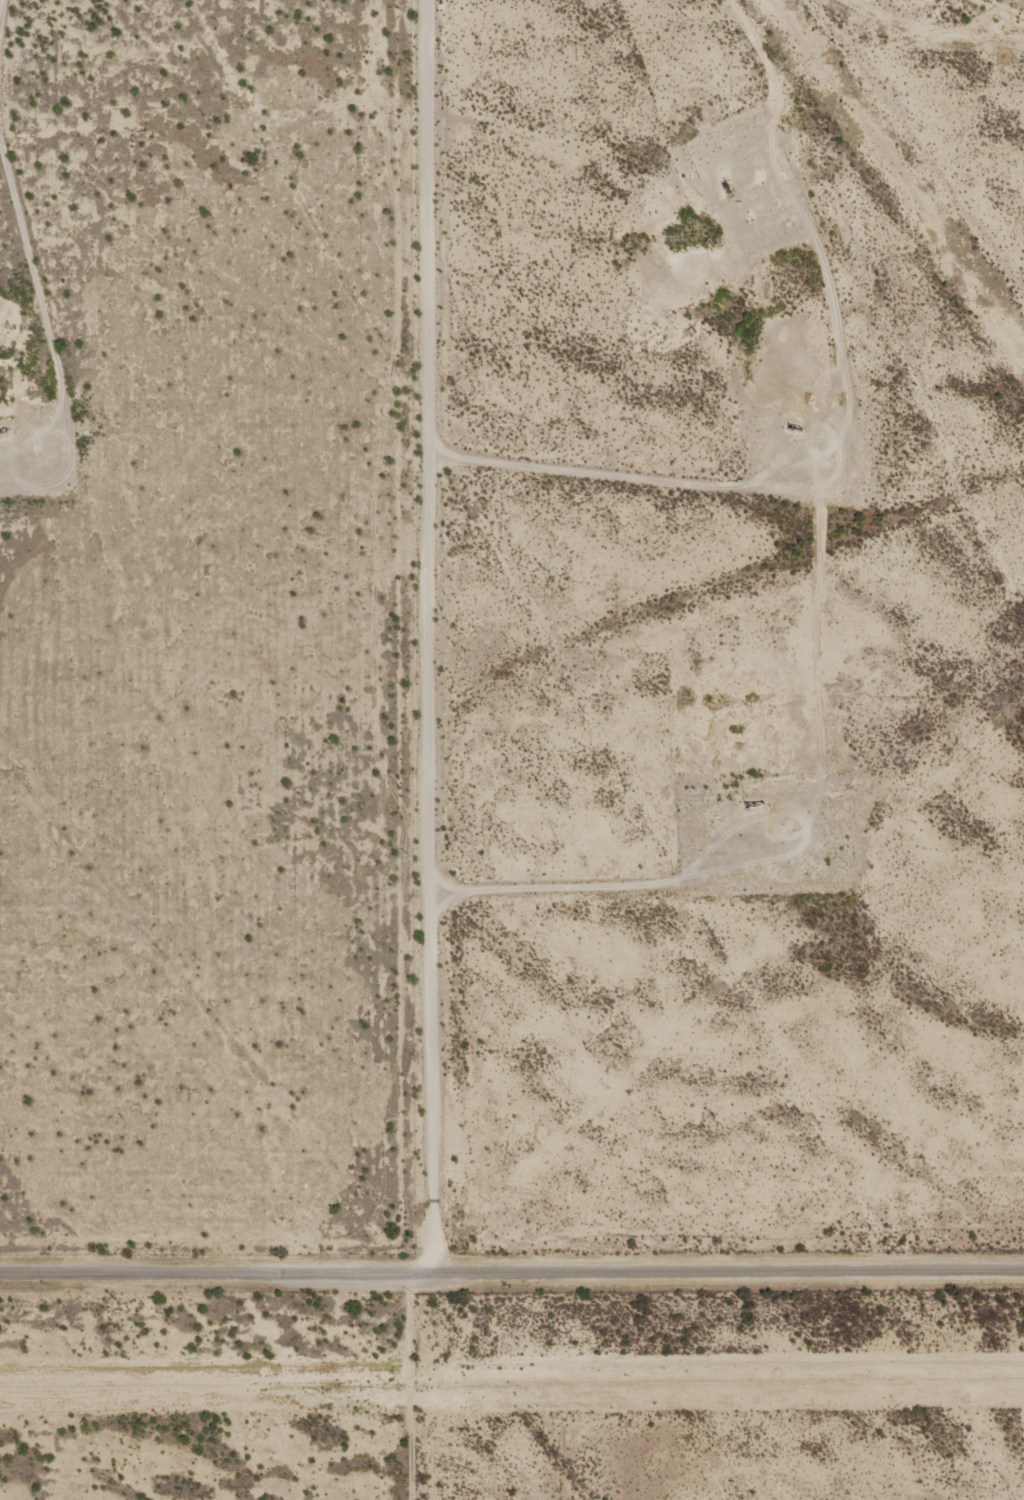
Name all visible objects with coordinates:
road: (420, 621)
road: (512, 1243)

